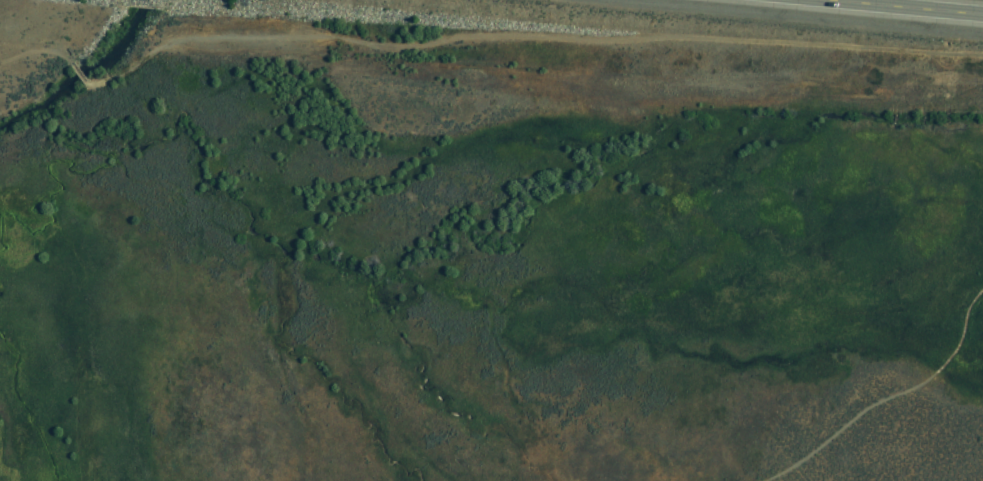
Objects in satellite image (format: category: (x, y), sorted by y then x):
road: (904, 7)
road: (527, 37)
road: (35, 55)
road: (76, 75)
road: (890, 397)

